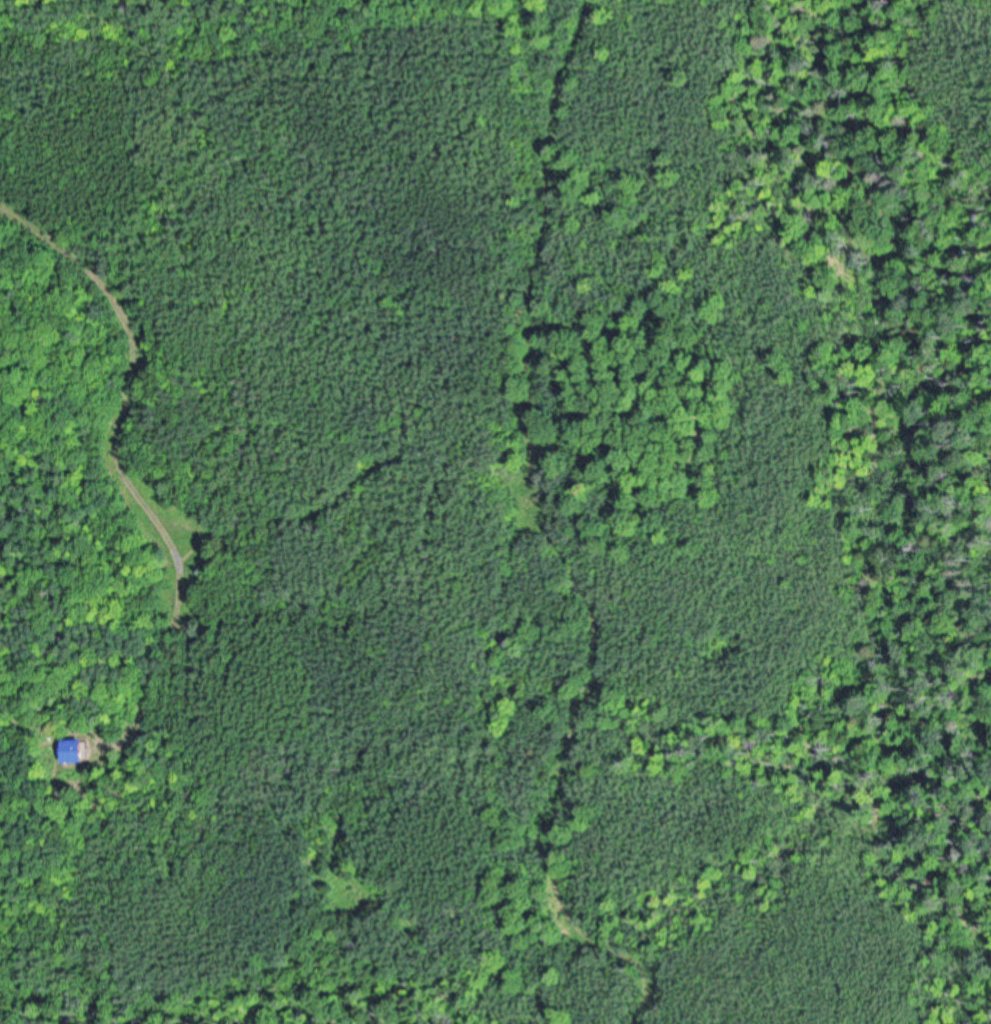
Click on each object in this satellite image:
road: (113, 444)
building: (73, 753)
building: (62, 817)

